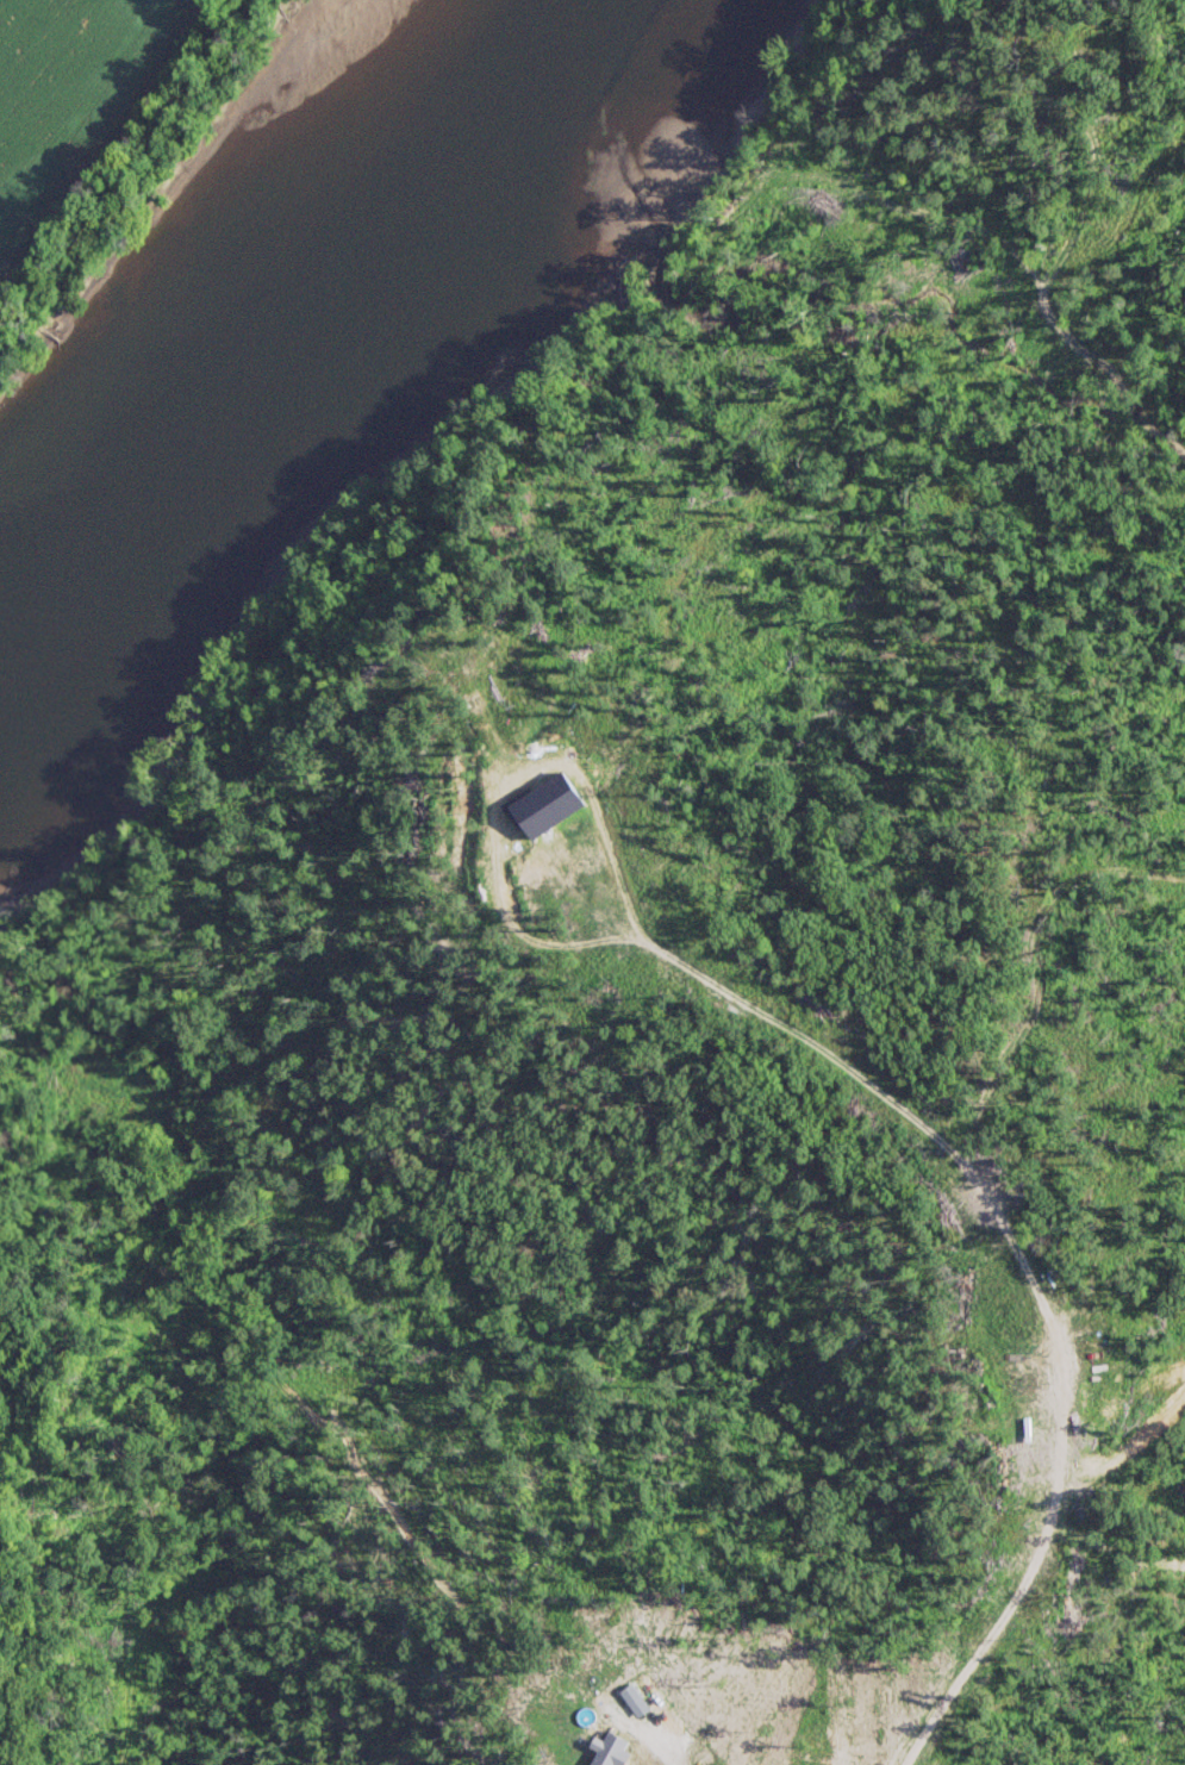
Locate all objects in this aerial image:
river: (316, 361)

